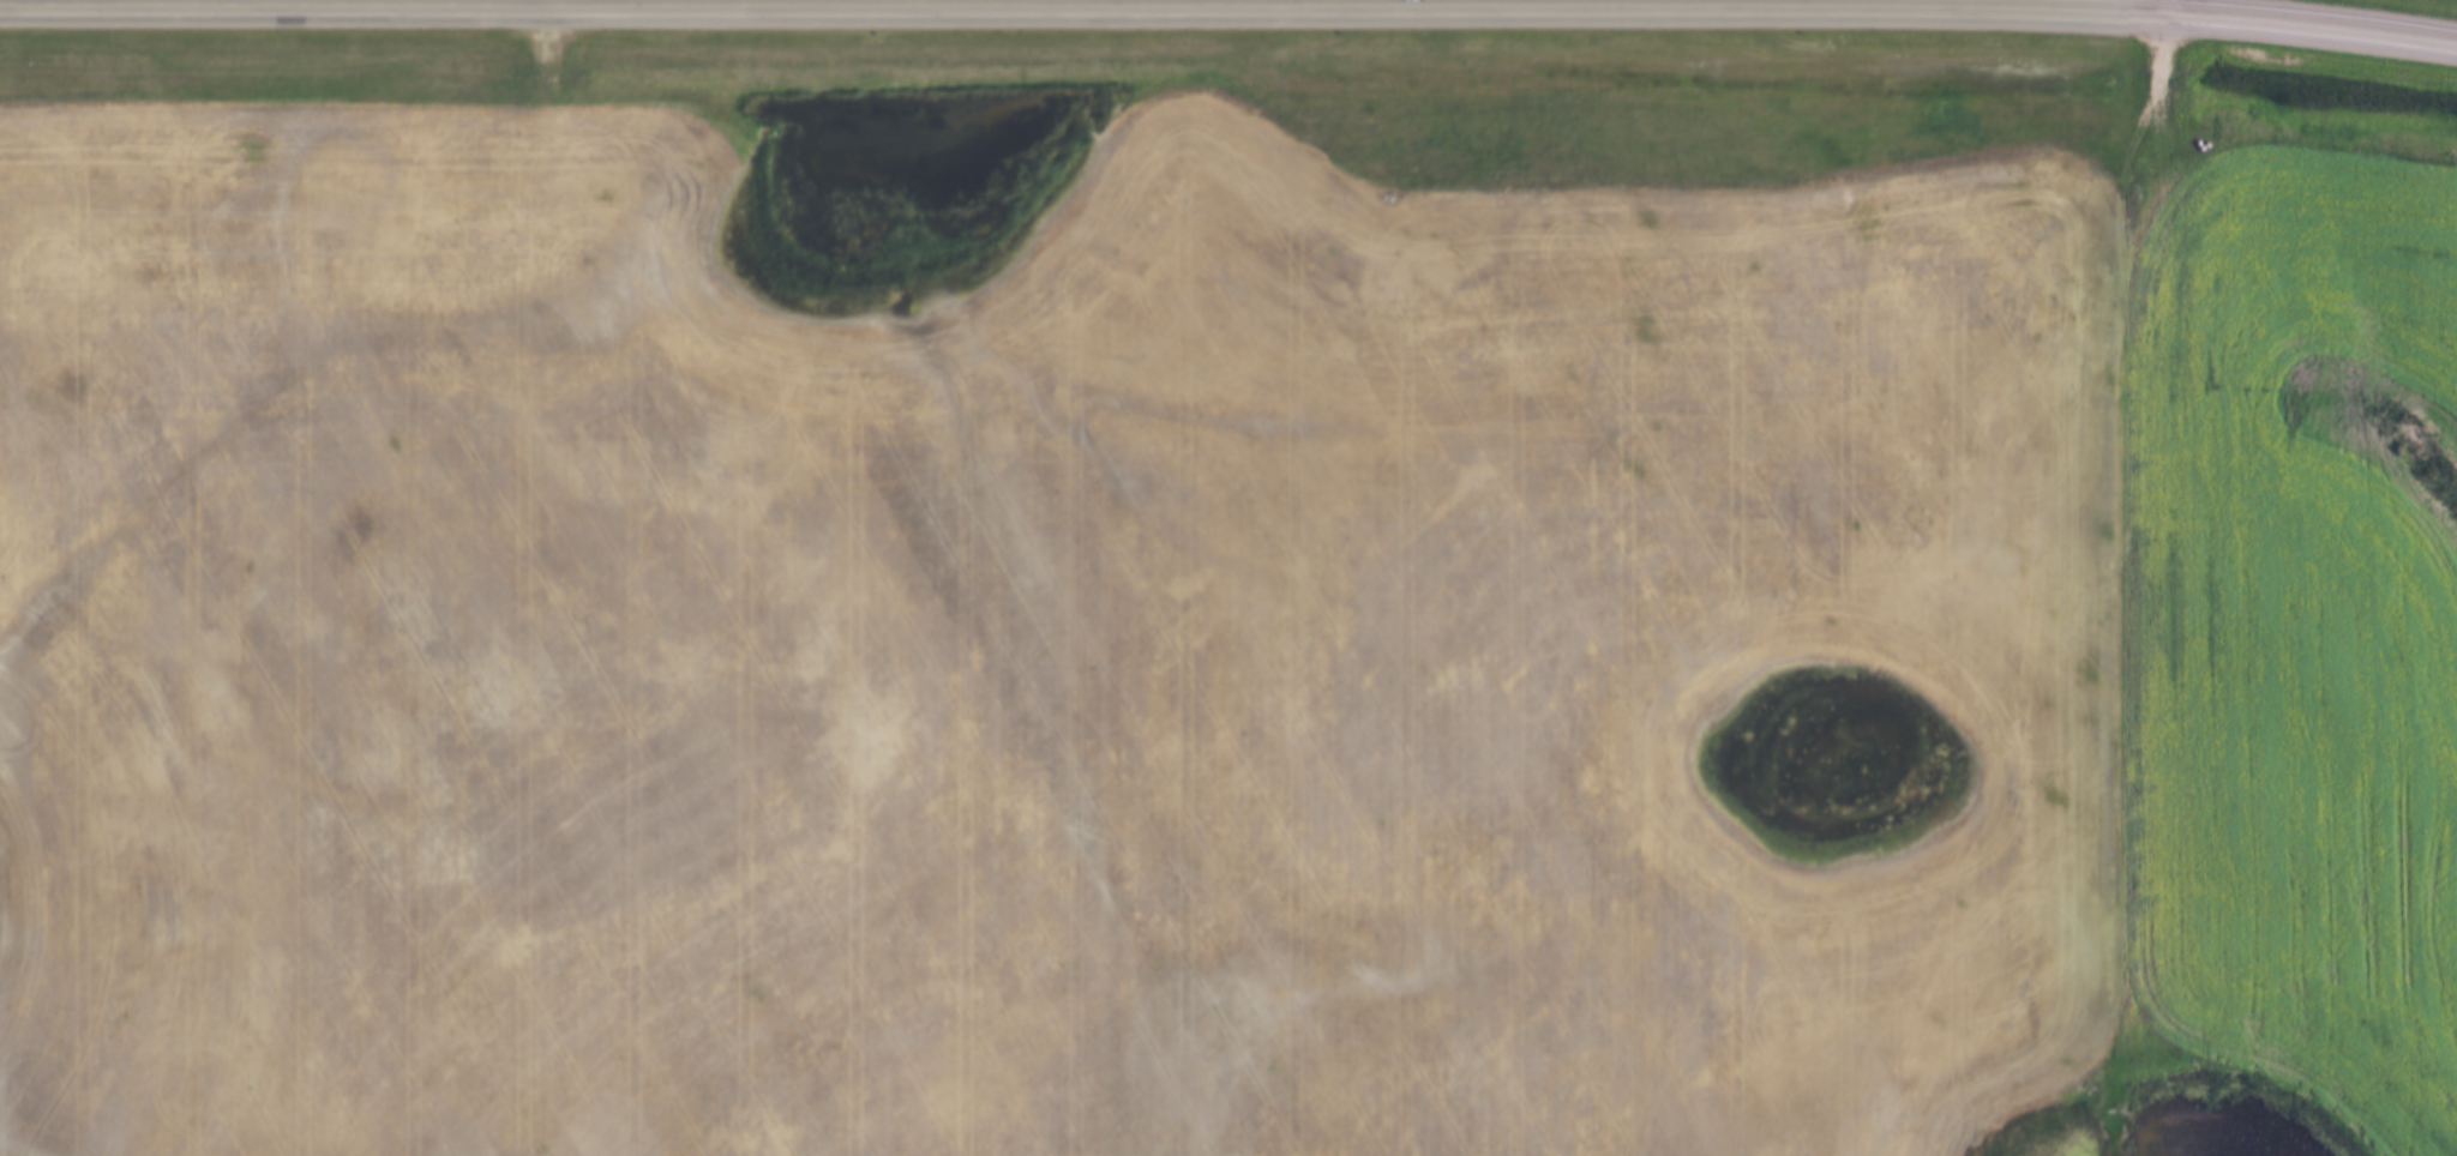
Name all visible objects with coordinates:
road: (770, 2)
road: (2107, 5)
road: (2171, 5)

